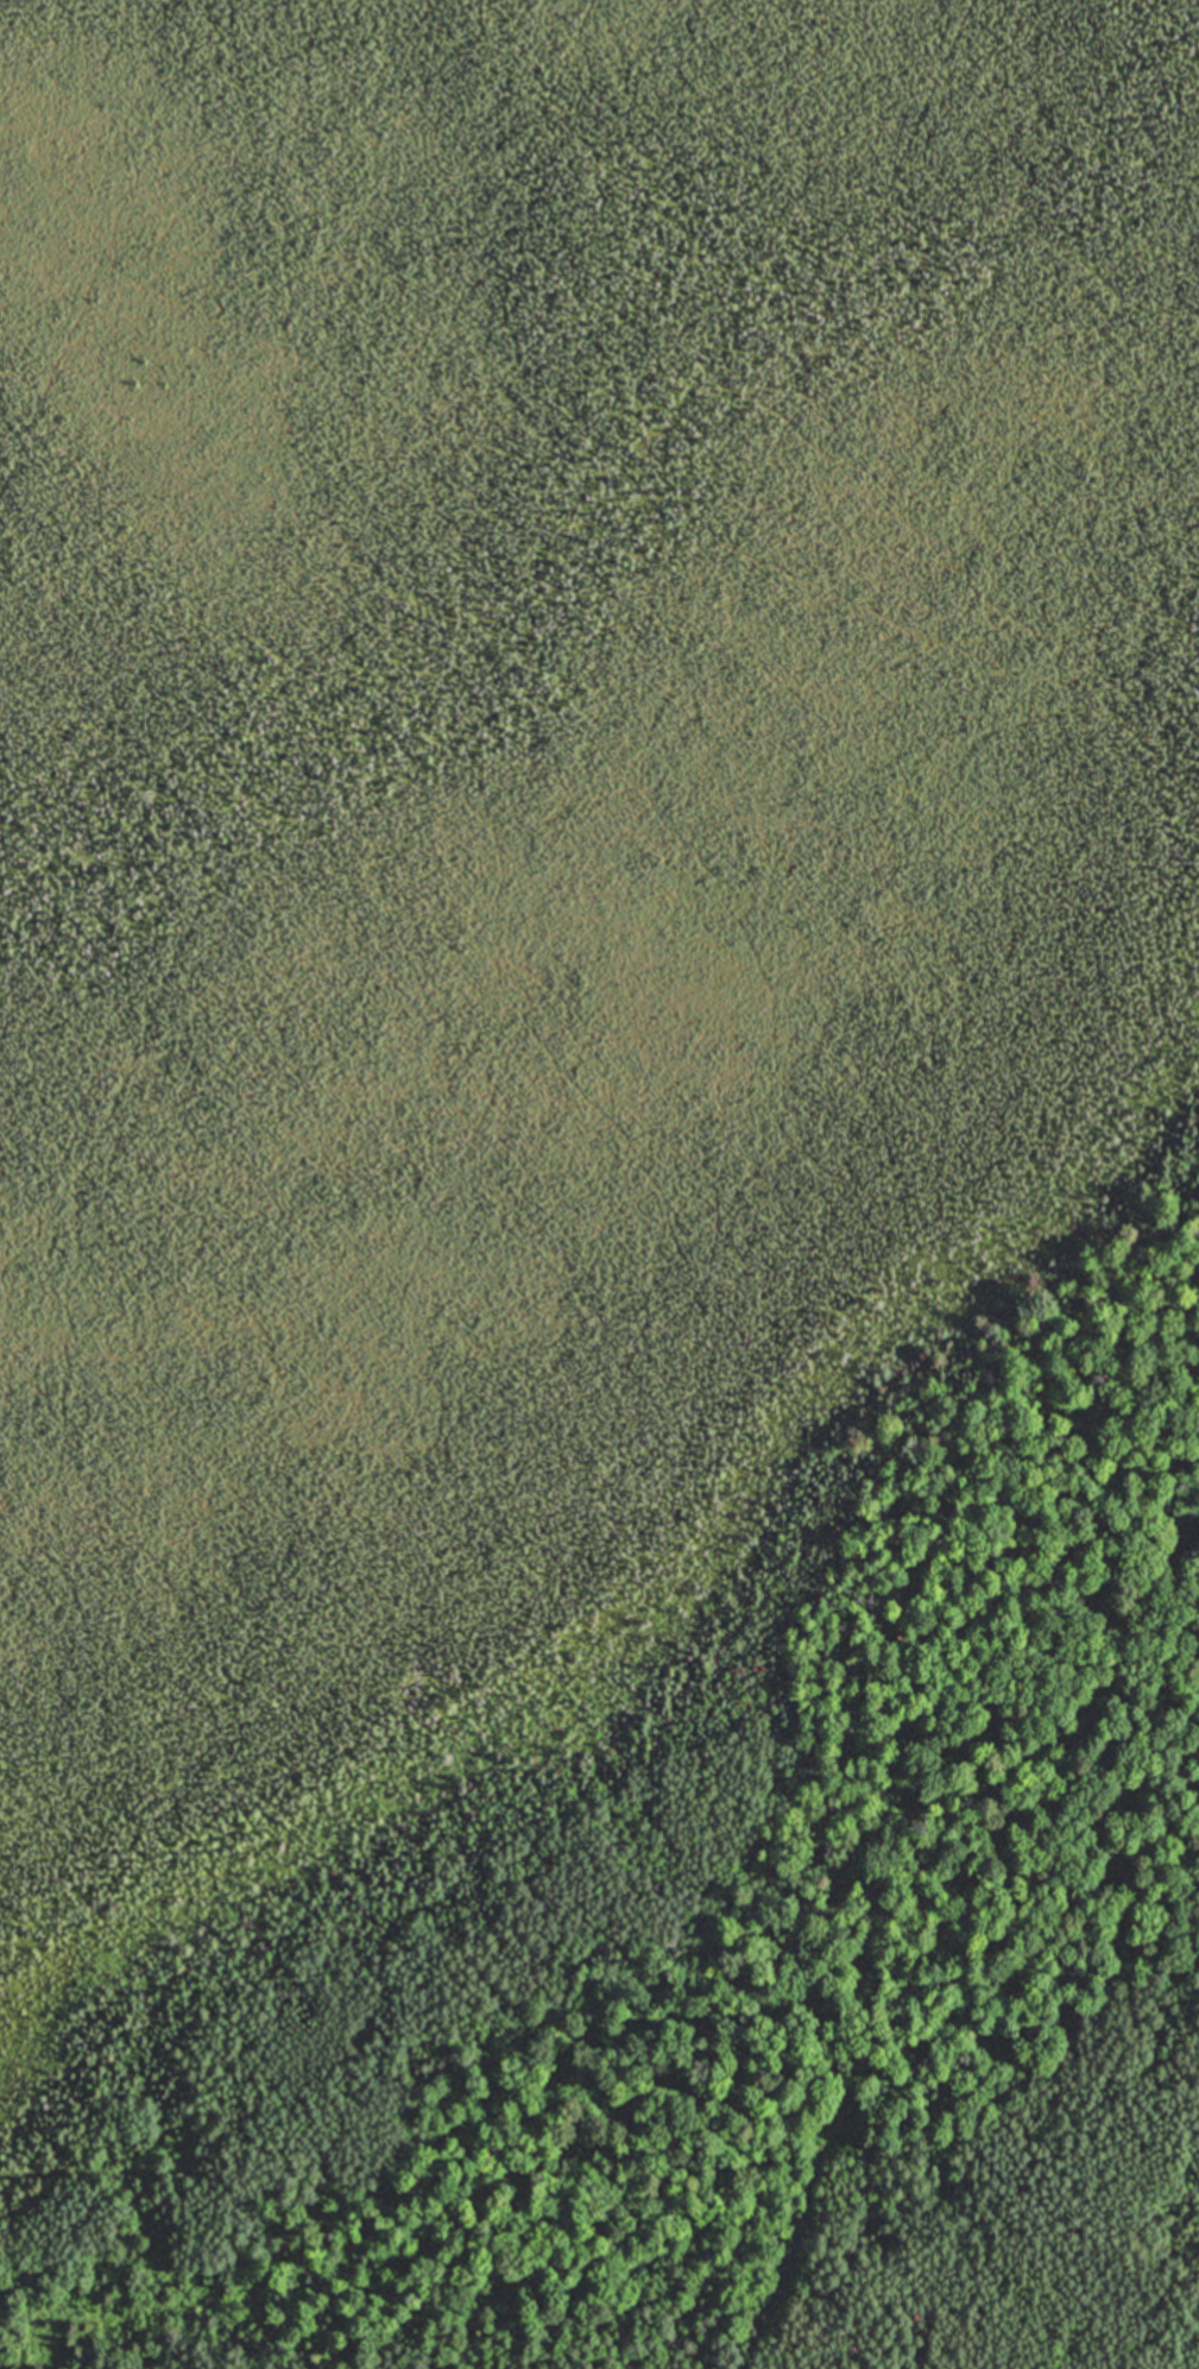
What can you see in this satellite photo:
road: (759, 2351)

